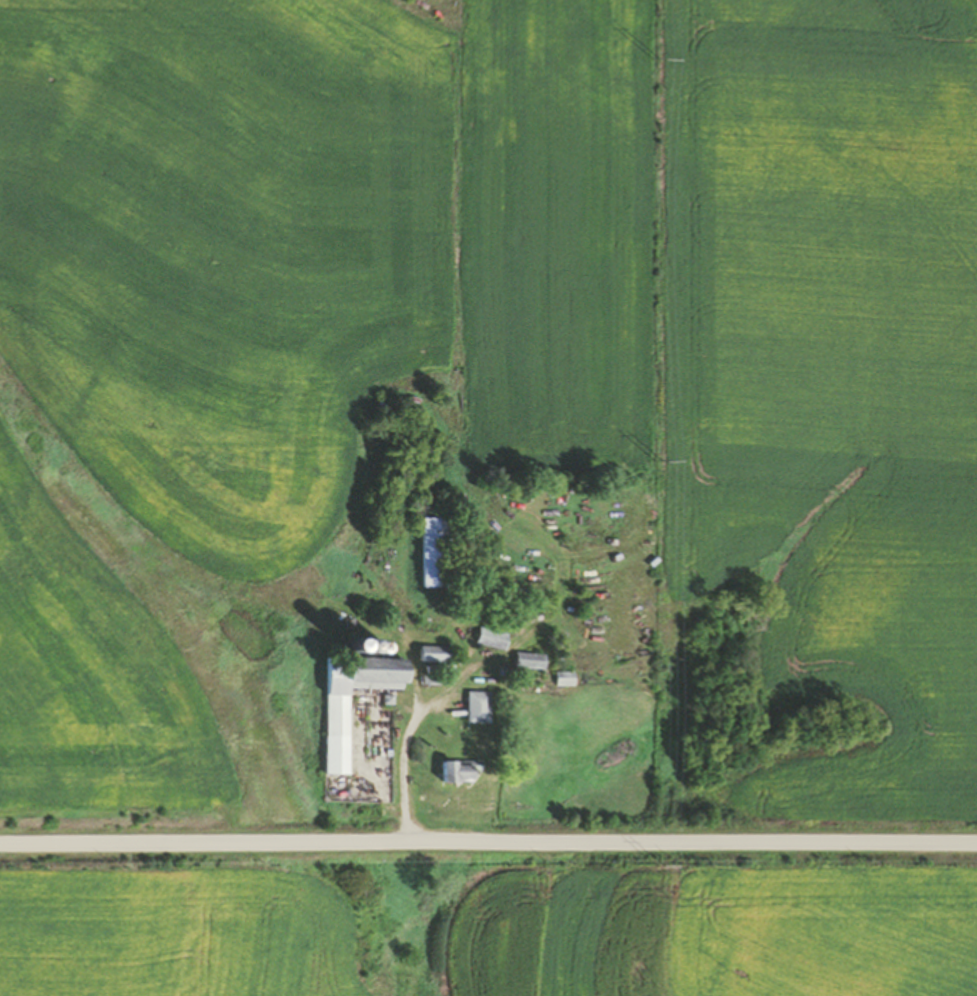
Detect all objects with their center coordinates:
building: (429, 552)
building: (483, 637)
building: (427, 653)
building: (520, 660)
building: (557, 678)
building: (427, 679)
building: (470, 706)
building: (327, 734)
building: (449, 770)
road: (488, 843)

